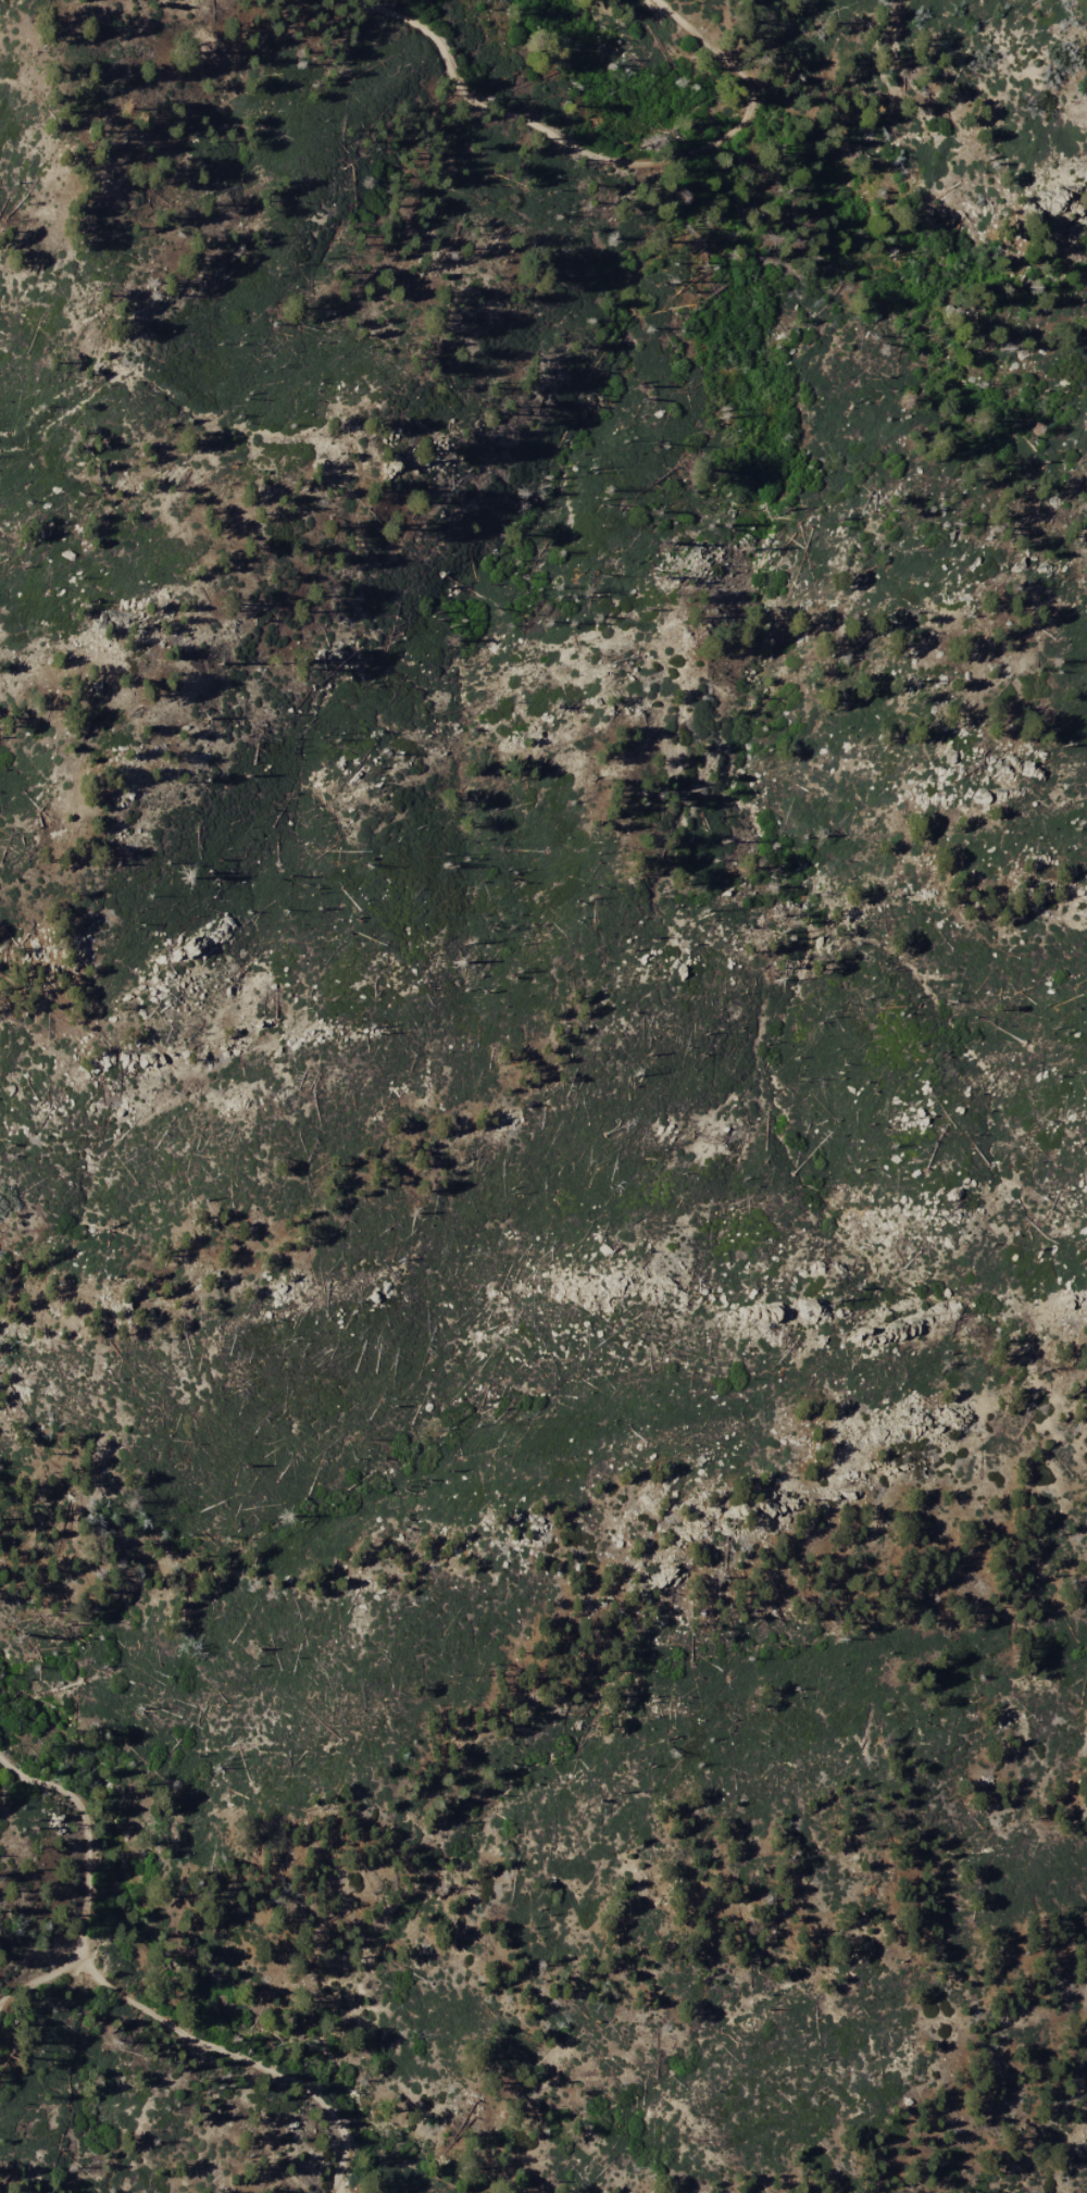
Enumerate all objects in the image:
road: (420, 24)
road: (715, 49)
road: (594, 157)
road: (34, 1966)
road: (132, 2002)

